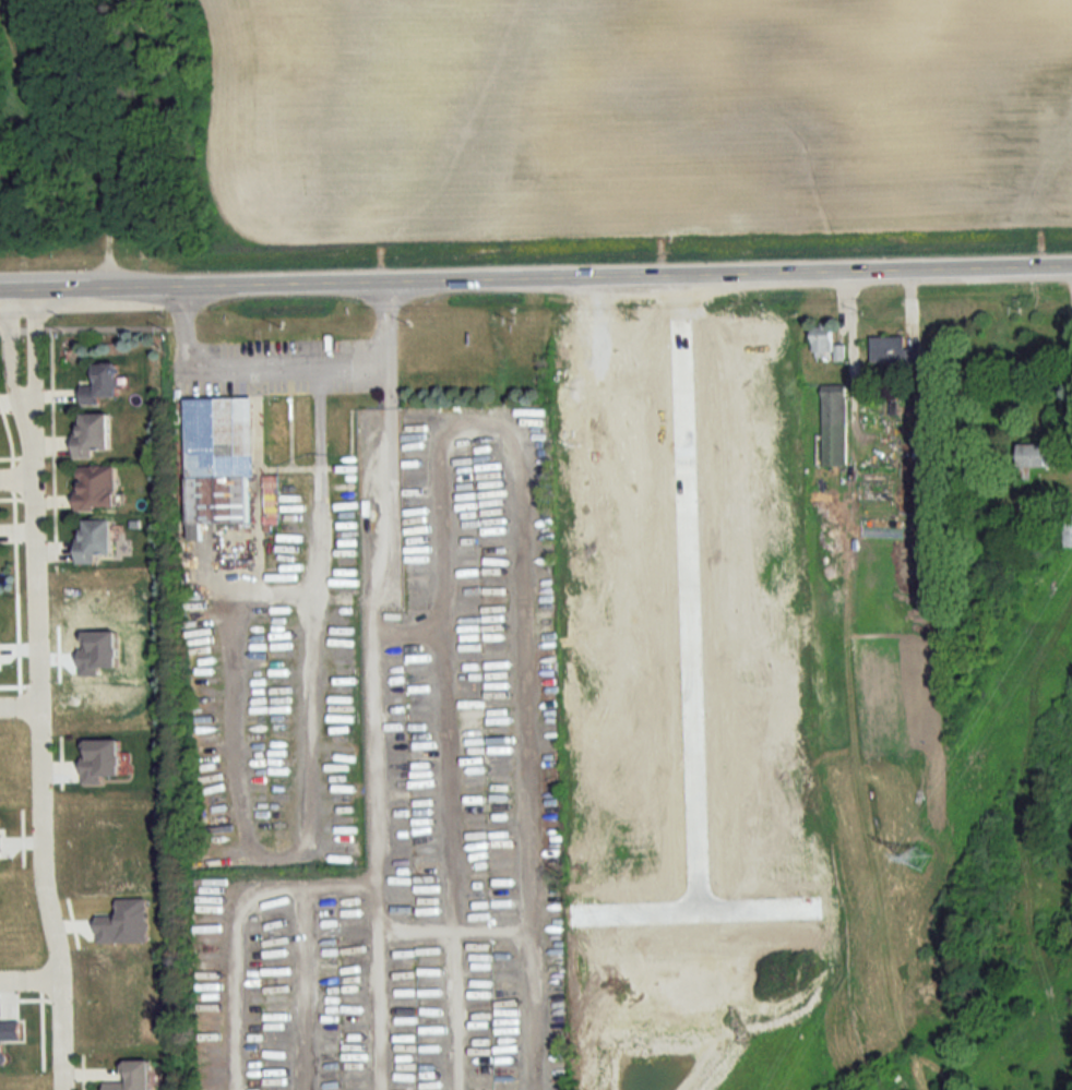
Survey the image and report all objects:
crop: (631, 115)
road: (535, 277)
road: (85, 325)
road: (849, 332)
building: (825, 343)
building: (893, 352)
building: (600, 356)
road: (286, 366)
building: (655, 383)
building: (102, 384)
building: (833, 426)
building: (93, 433)
building: (218, 456)
building: (1037, 457)
road: (17, 480)
building: (96, 488)
building: (1065, 531)
building: (94, 539)
road: (689, 590)
road: (38, 690)
road: (20, 706)
power tower: (922, 864)
road: (692, 907)
road: (29, 980)
building: (10, 1030)
building: (133, 1077)

